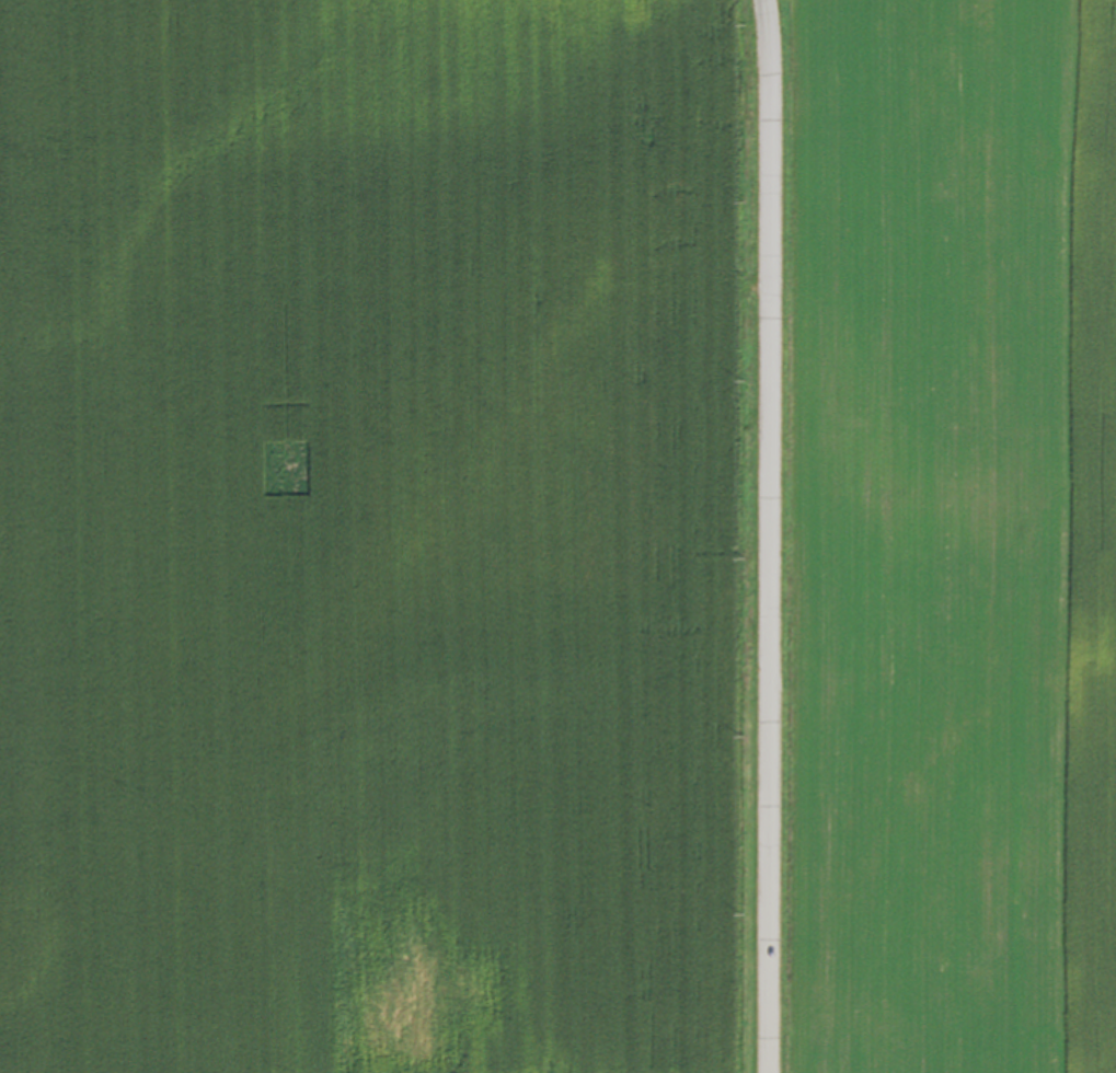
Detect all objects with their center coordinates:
road: (771, 535)

